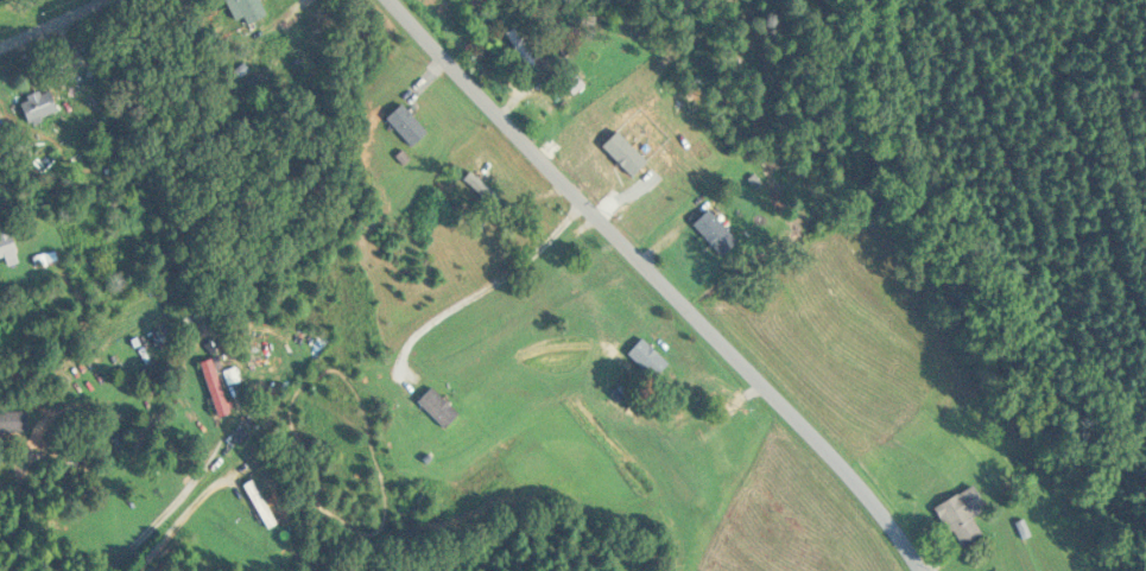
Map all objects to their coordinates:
building: (246, 11)
road: (55, 24)
building: (610, 32)
building: (519, 49)
building: (36, 107)
building: (405, 125)
building: (628, 152)
building: (481, 178)
building: (713, 233)
building: (6, 248)
road: (663, 281)
road: (477, 288)
building: (646, 359)
building: (214, 387)
building: (436, 407)
building: (12, 421)
building: (487, 477)
building: (258, 503)
building: (960, 514)

